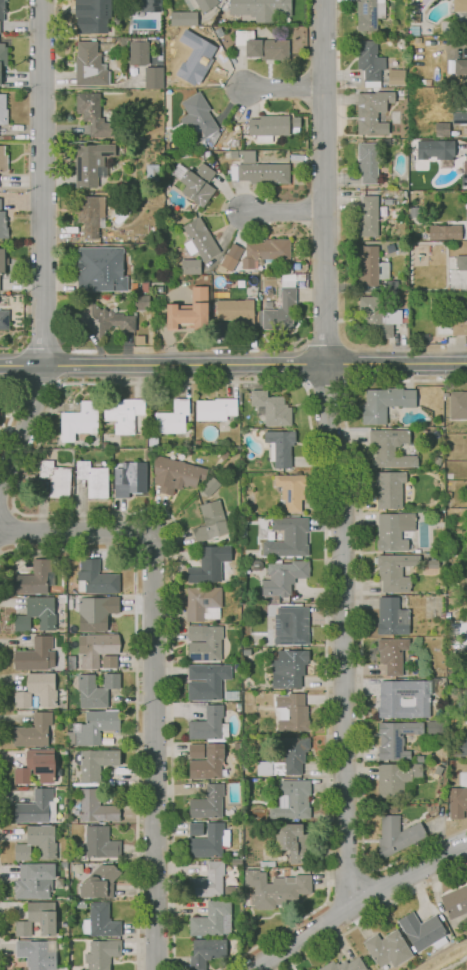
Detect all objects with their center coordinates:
building: (201, 4)
building: (151, 5)
building: (459, 5)
building: (261, 8)
building: (2, 9)
building: (370, 13)
building: (88, 15)
building: (180, 19)
building: (143, 31)
building: (122, 41)
building: (263, 46)
building: (139, 51)
building: (3, 56)
building: (200, 61)
building: (370, 61)
building: (90, 65)
building: (460, 66)
building: (396, 76)
building: (154, 77)
building: (426, 81)
road: (283, 88)
building: (3, 109)
building: (373, 111)
building: (94, 115)
building: (460, 117)
building: (197, 121)
building: (268, 126)
building: (442, 128)
building: (429, 148)
building: (207, 153)
building: (3, 158)
building: (368, 162)
building: (92, 163)
building: (258, 169)
building: (464, 172)
building: (152, 173)
building: (196, 182)
building: (387, 201)
building: (383, 210)
road: (284, 211)
building: (414, 211)
building: (90, 212)
building: (368, 216)
building: (466, 221)
building: (3, 224)
building: (445, 231)
building: (199, 239)
road: (43, 247)
building: (403, 249)
building: (266, 251)
building: (231, 256)
building: (2, 261)
building: (461, 262)
building: (191, 266)
building: (371, 266)
building: (101, 269)
building: (391, 285)
building: (144, 286)
building: (159, 288)
building: (142, 302)
building: (281, 305)
building: (191, 310)
building: (236, 310)
building: (376, 317)
building: (4, 319)
building: (104, 319)
building: (459, 327)
road: (233, 363)
road: (136, 383)
road: (326, 384)
building: (385, 402)
building: (458, 404)
road: (10, 405)
building: (216, 408)
building: (271, 408)
building: (125, 414)
building: (173, 417)
building: (79, 420)
building: (280, 446)
building: (391, 447)
road: (331, 454)
building: (438, 460)
building: (176, 473)
building: (56, 478)
building: (93, 478)
building: (132, 479)
building: (389, 488)
building: (291, 490)
road: (7, 509)
building: (210, 519)
road: (13, 530)
building: (394, 530)
building: (288, 537)
road: (0, 555)
building: (433, 564)
building: (208, 565)
building: (395, 571)
building: (95, 576)
building: (284, 576)
building: (35, 578)
building: (203, 602)
building: (96, 612)
building: (37, 614)
building: (392, 616)
road: (360, 619)
building: (292, 625)
building: (195, 632)
building: (207, 644)
building: (95, 648)
building: (247, 652)
building: (392, 654)
building: (36, 655)
building: (466, 658)
building: (289, 668)
road: (153, 675)
building: (207, 680)
building: (96, 689)
building: (38, 690)
road: (135, 692)
building: (231, 695)
building: (404, 698)
building: (292, 712)
building: (209, 725)
building: (97, 726)
building: (435, 727)
building: (34, 730)
building: (396, 738)
building: (459, 746)
building: (286, 757)
building: (418, 758)
building: (206, 760)
building: (95, 764)
building: (37, 766)
building: (396, 777)
building: (292, 800)
building: (457, 801)
building: (208, 802)
building: (35, 806)
building: (97, 806)
building: (398, 836)
building: (208, 839)
building: (37, 842)
building: (101, 842)
building: (293, 842)
building: (237, 862)
building: (267, 863)
building: (35, 881)
building: (208, 881)
building: (100, 882)
building: (276, 888)
building: (455, 902)
building: (78, 904)
road: (355, 904)
road: (374, 914)
building: (37, 919)
building: (212, 919)
building: (101, 921)
building: (423, 931)
building: (388, 948)
building: (206, 952)
building: (36, 954)
building: (102, 954)
road: (0, 963)
building: (345, 965)
building: (66, 967)

